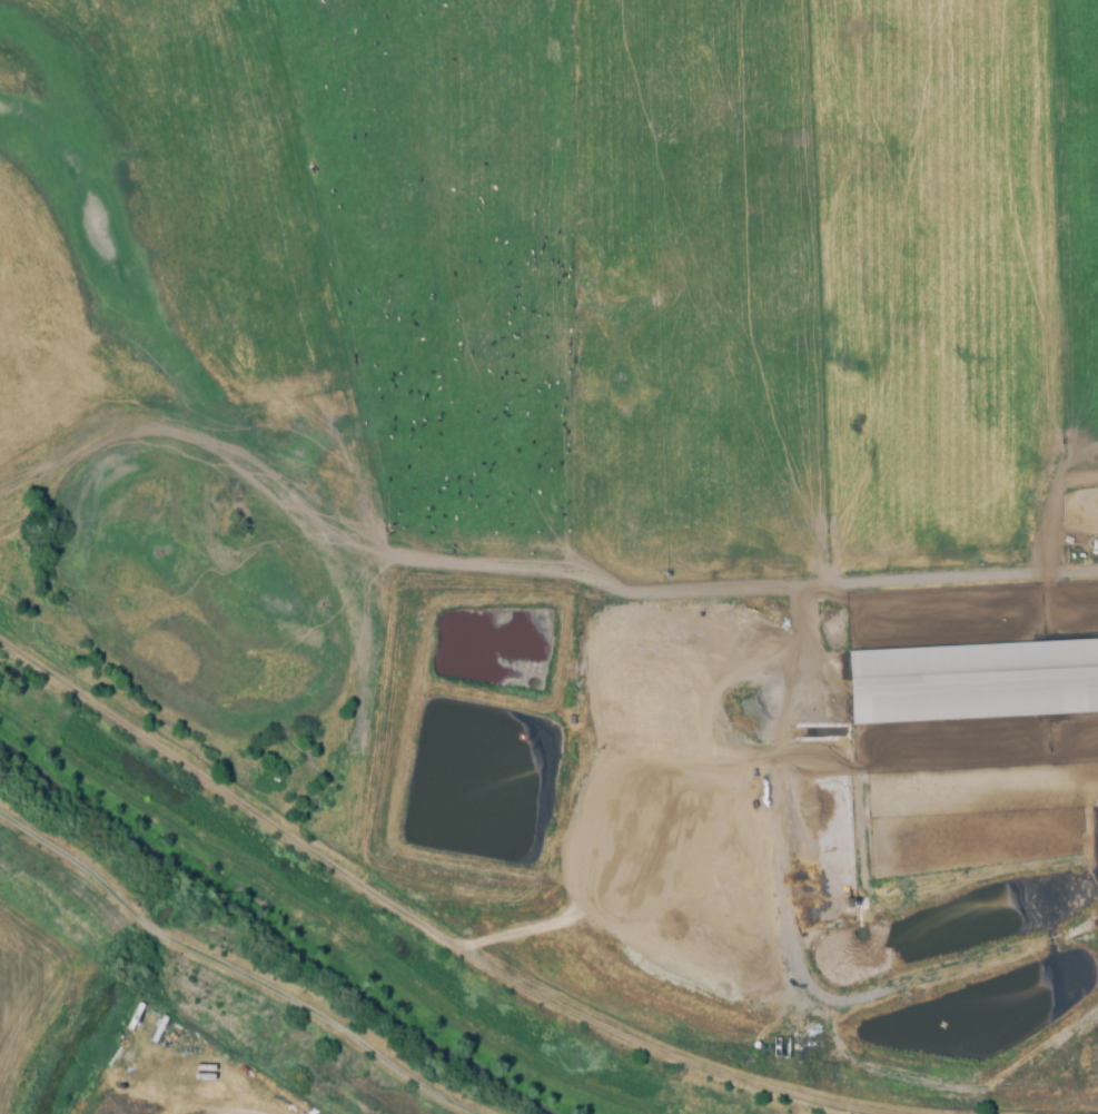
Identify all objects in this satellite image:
road: (956, 575)
building: (973, 682)
road: (621, 978)

